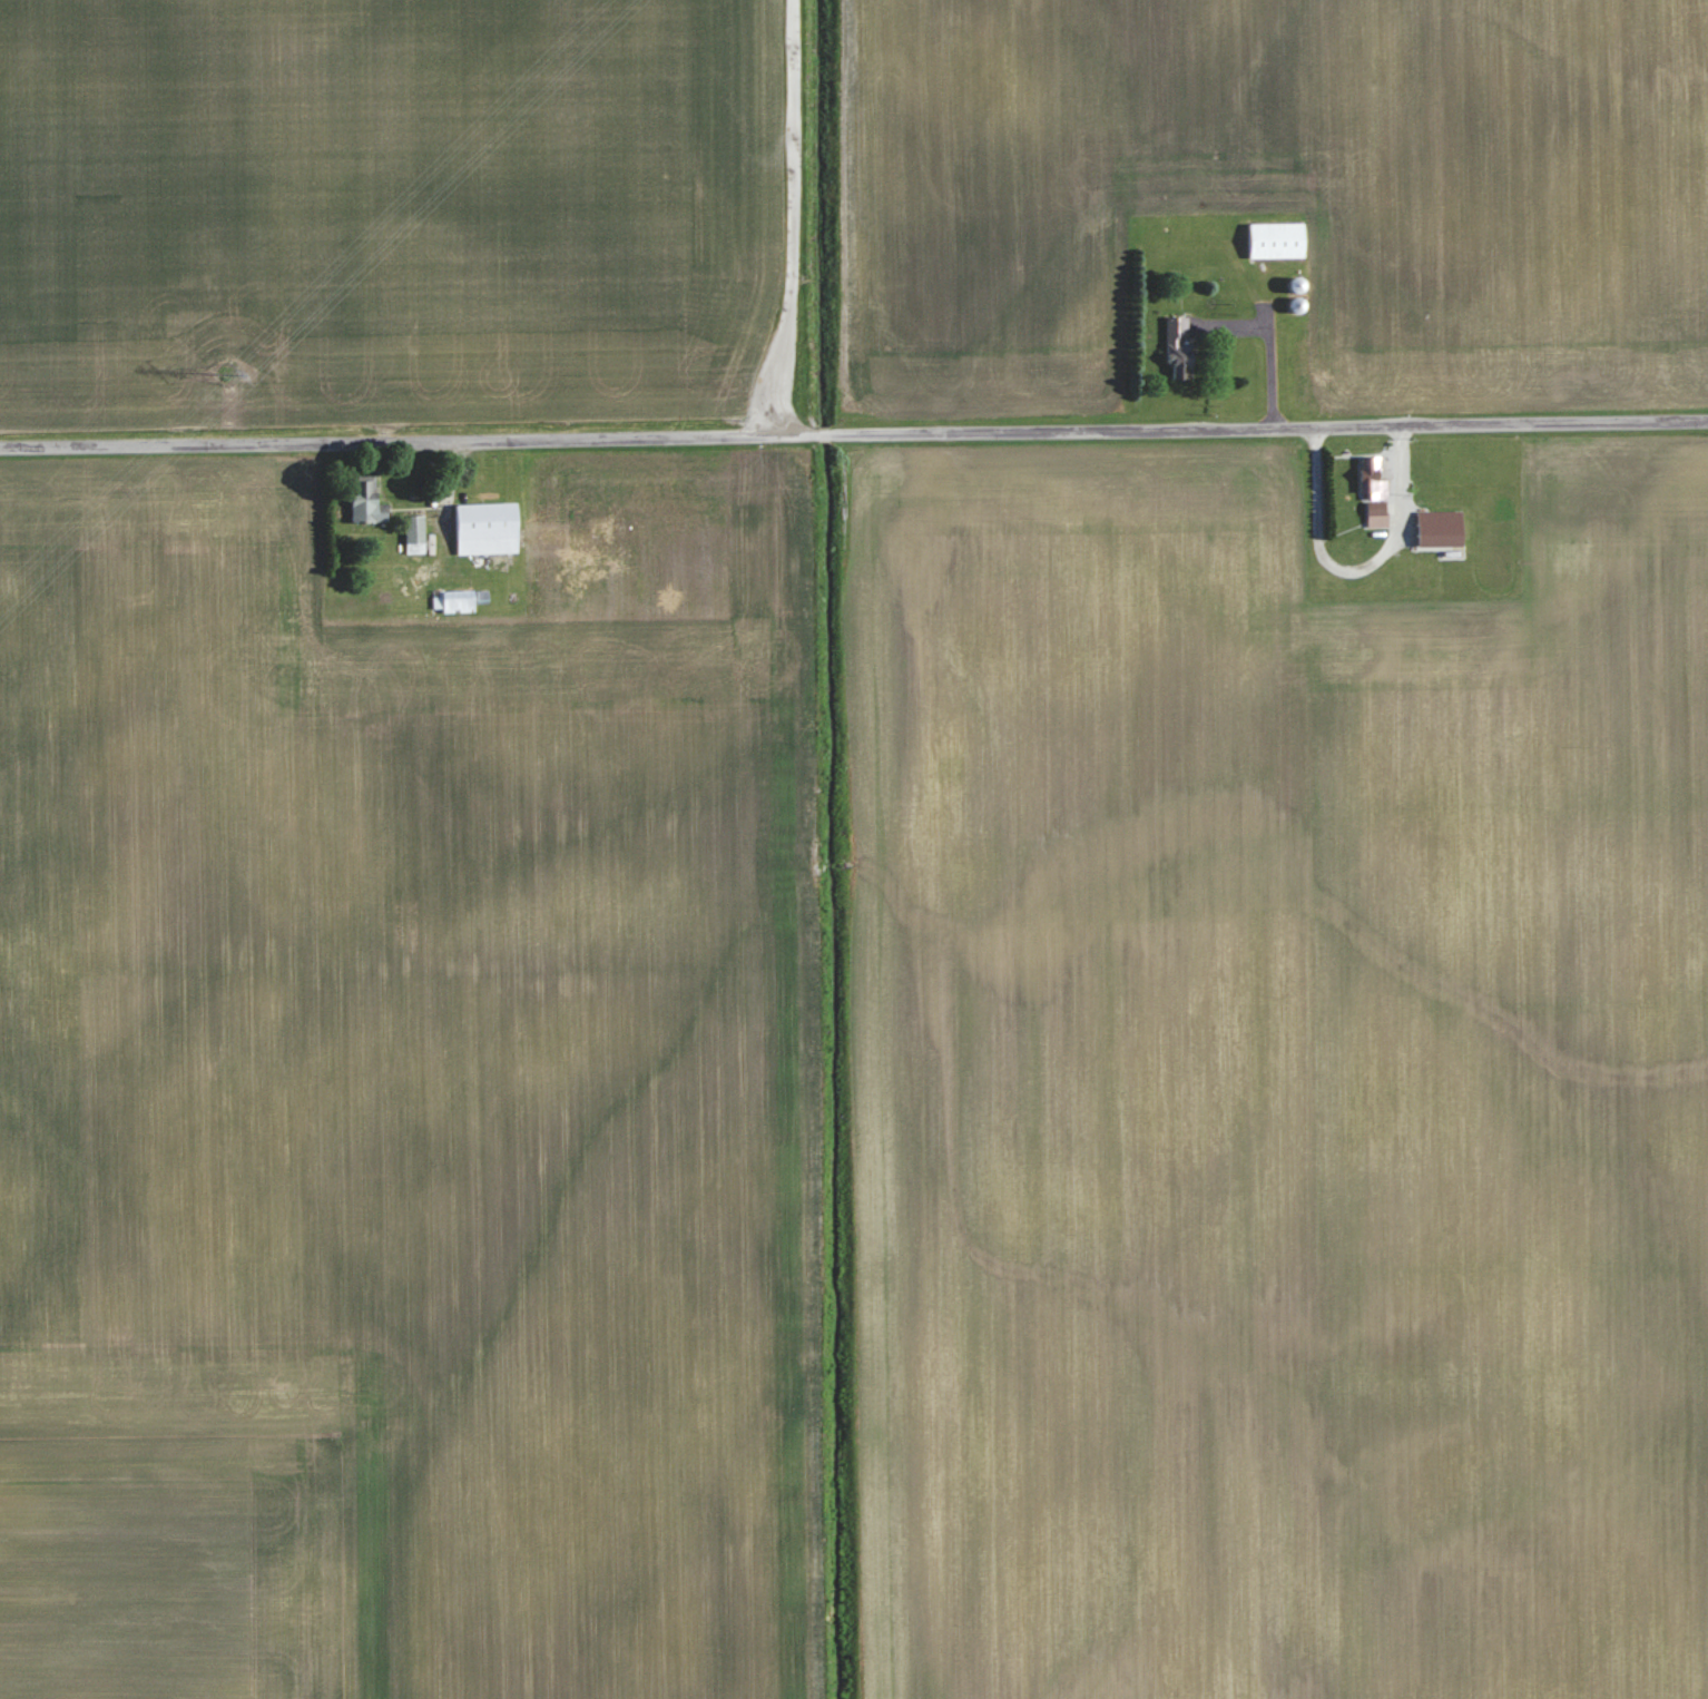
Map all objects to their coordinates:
building: (1275, 239)
building: (1179, 348)
power tower: (234, 371)
road: (854, 442)
building: (1376, 501)
building: (366, 502)
building: (1440, 528)
building: (487, 529)
building: (414, 534)
building: (454, 601)

